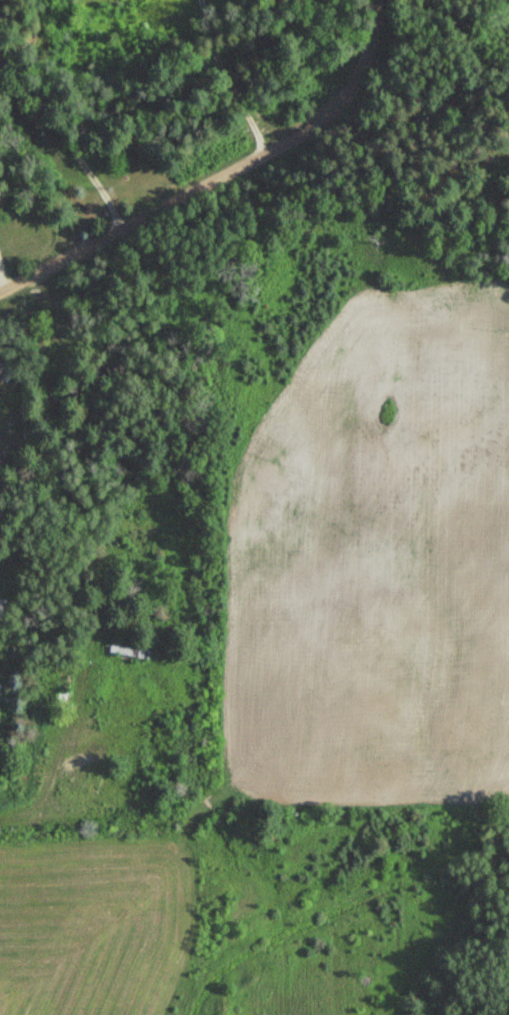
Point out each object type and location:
road: (211, 172)
building: (4, 612)
building: (6, 697)

